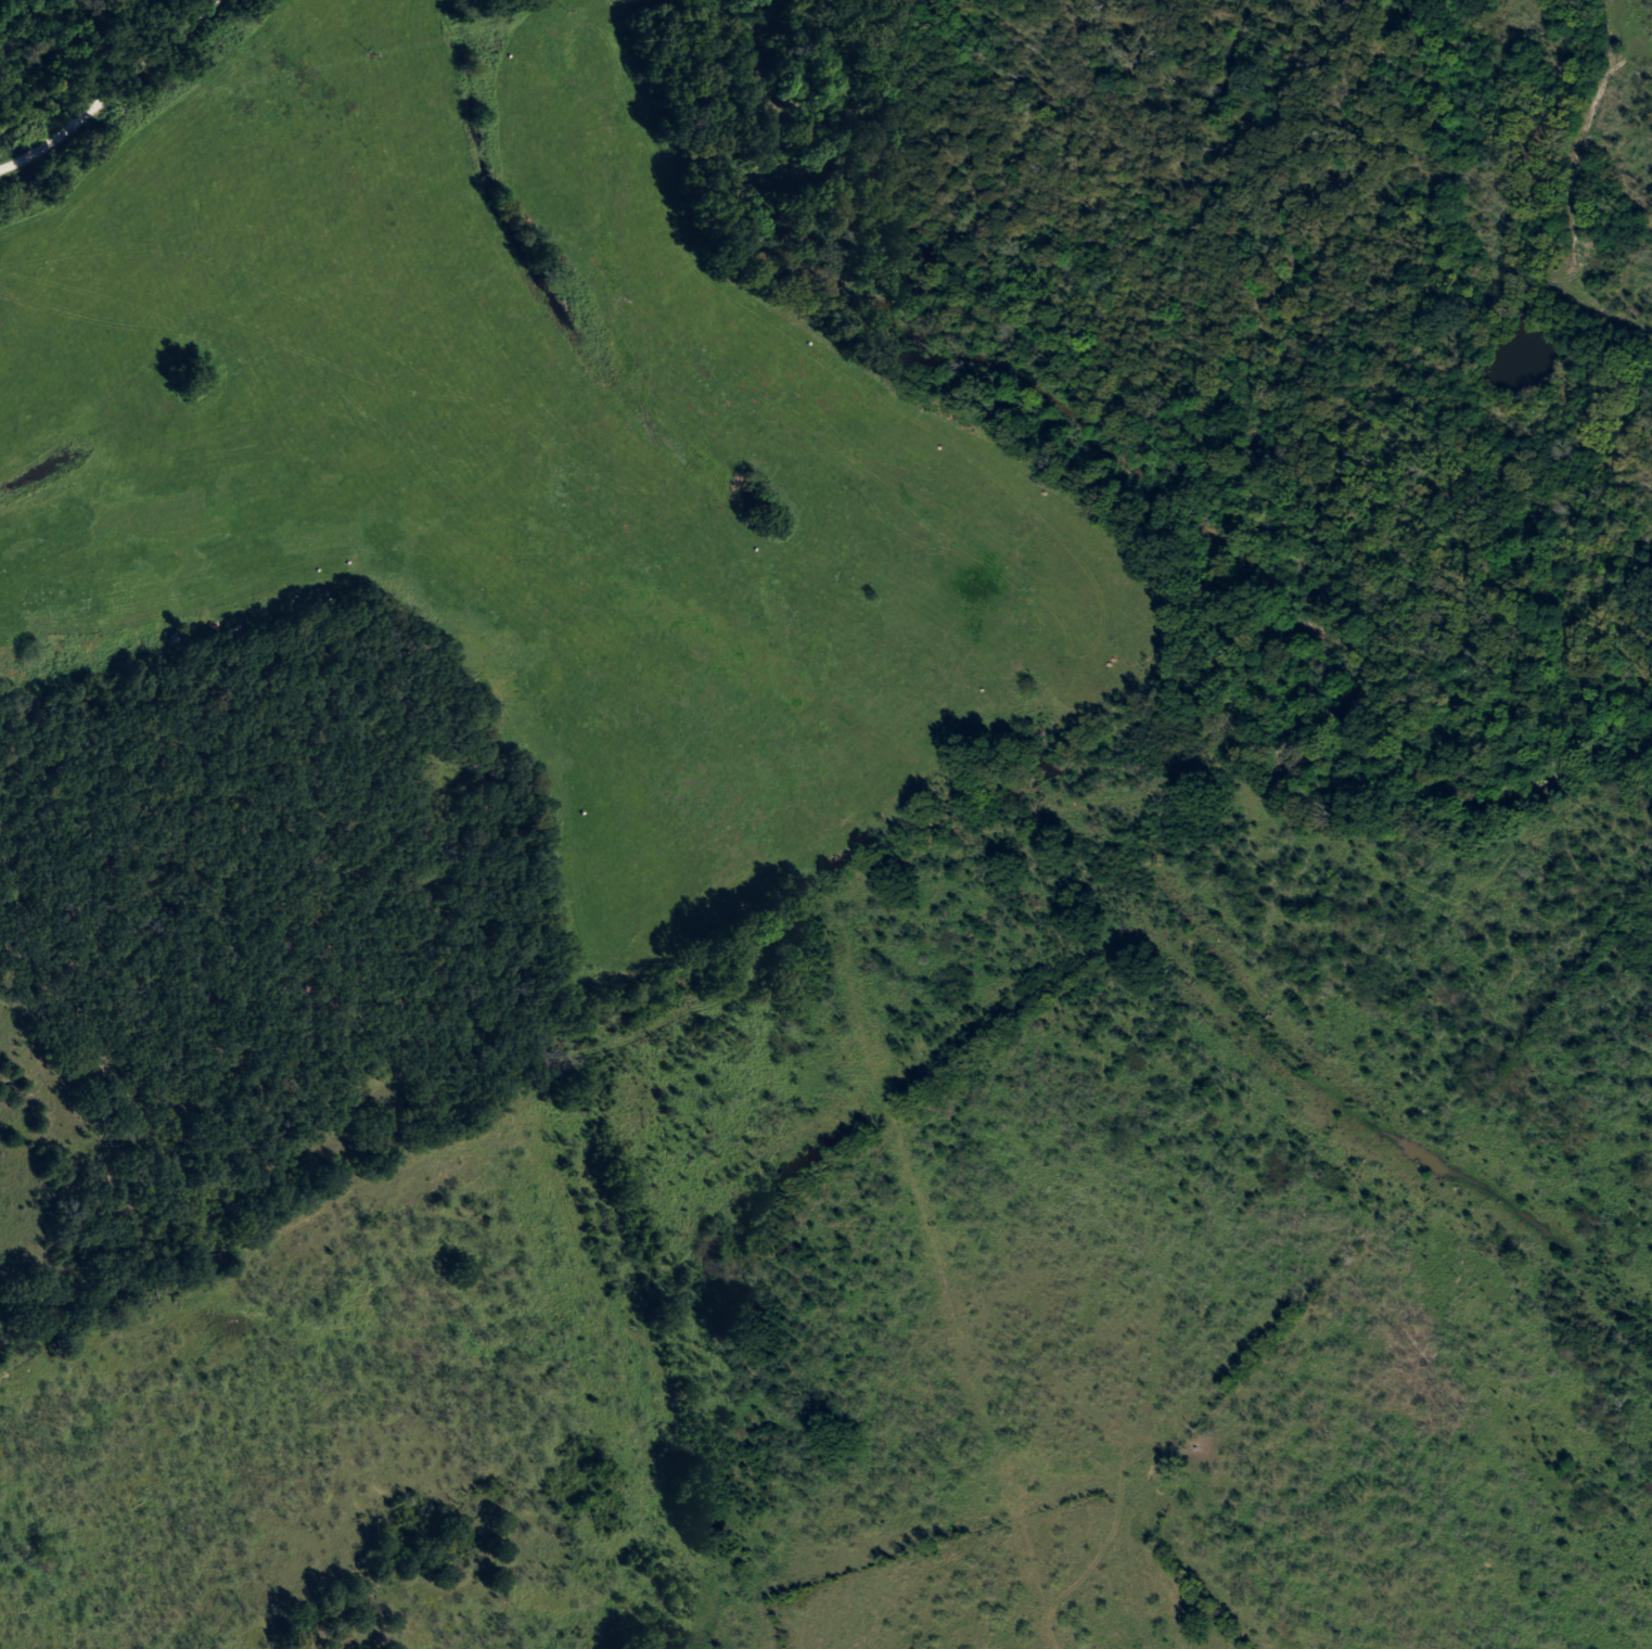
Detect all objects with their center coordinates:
road: (116, 92)

